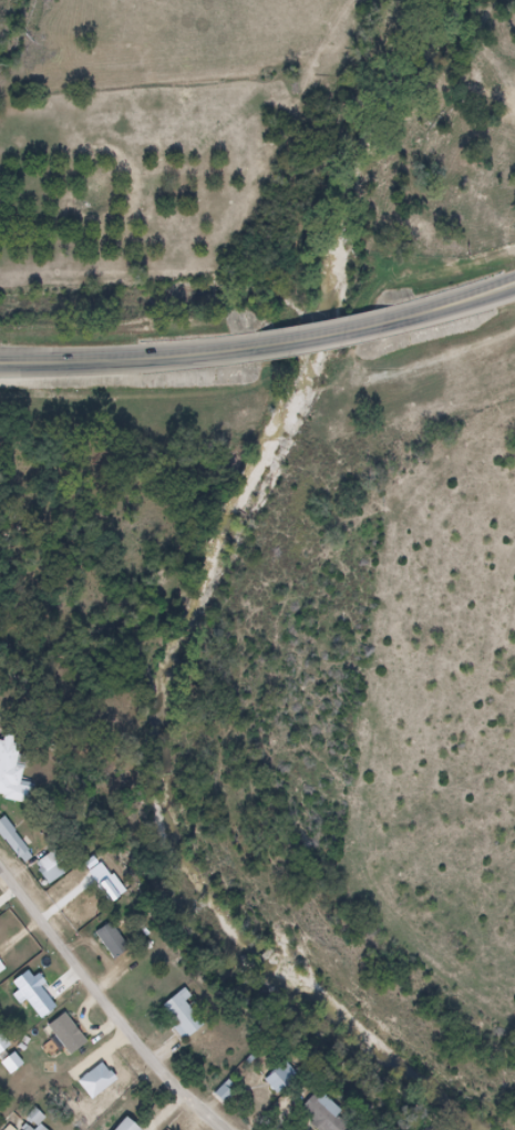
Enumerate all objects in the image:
road: (445, 308)
road: (299, 341)
road: (111, 360)
building: (16, 785)
building: (18, 847)
building: (53, 867)
building: (63, 881)
building: (121, 953)
building: (4, 976)
building: (43, 1004)
road: (105, 1008)
building: (189, 1026)
building: (76, 1044)
building: (7, 1049)
building: (13, 1065)
building: (20, 1070)
building: (284, 1078)
building: (103, 1089)
building: (43, 1122)
building: (318, 1123)
building: (25, 1128)
building: (135, 1128)
building: (17, 1129)
building: (33, 1129)

